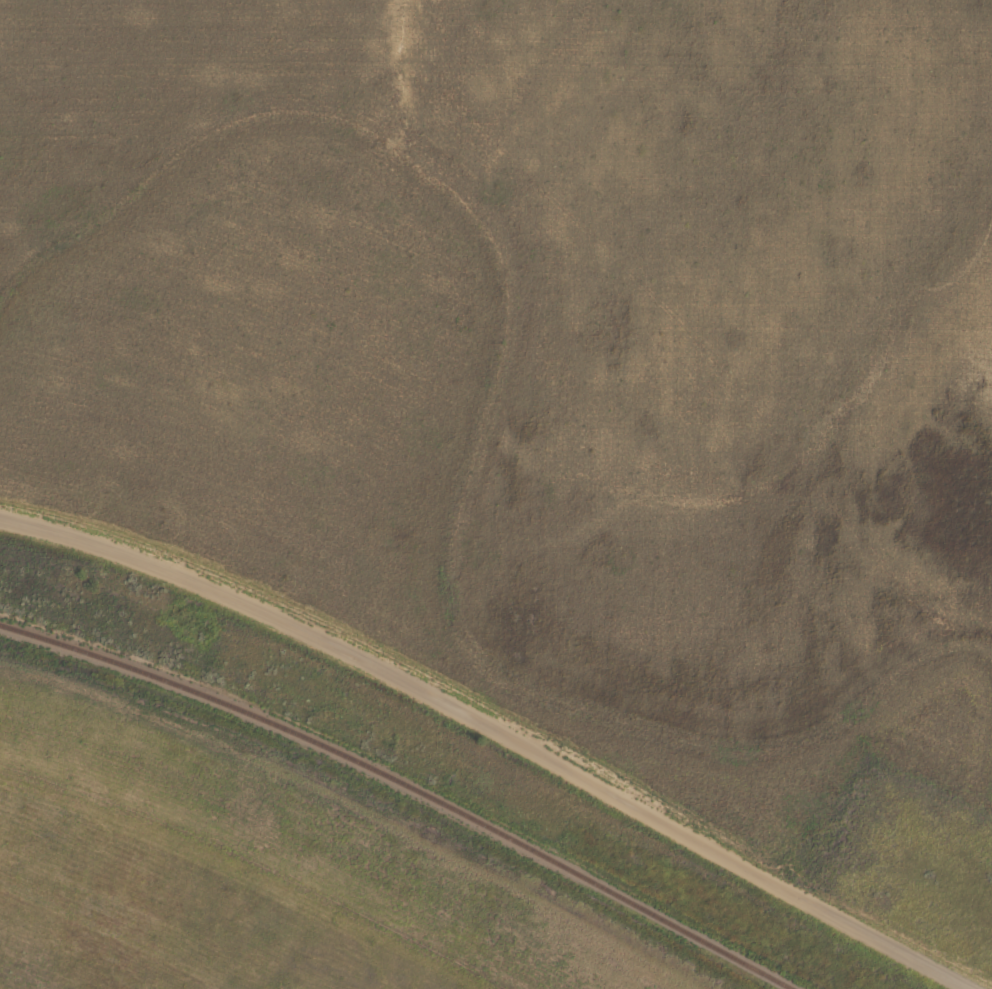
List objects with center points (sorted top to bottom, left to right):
road: (496, 730)
railway: (406, 783)

